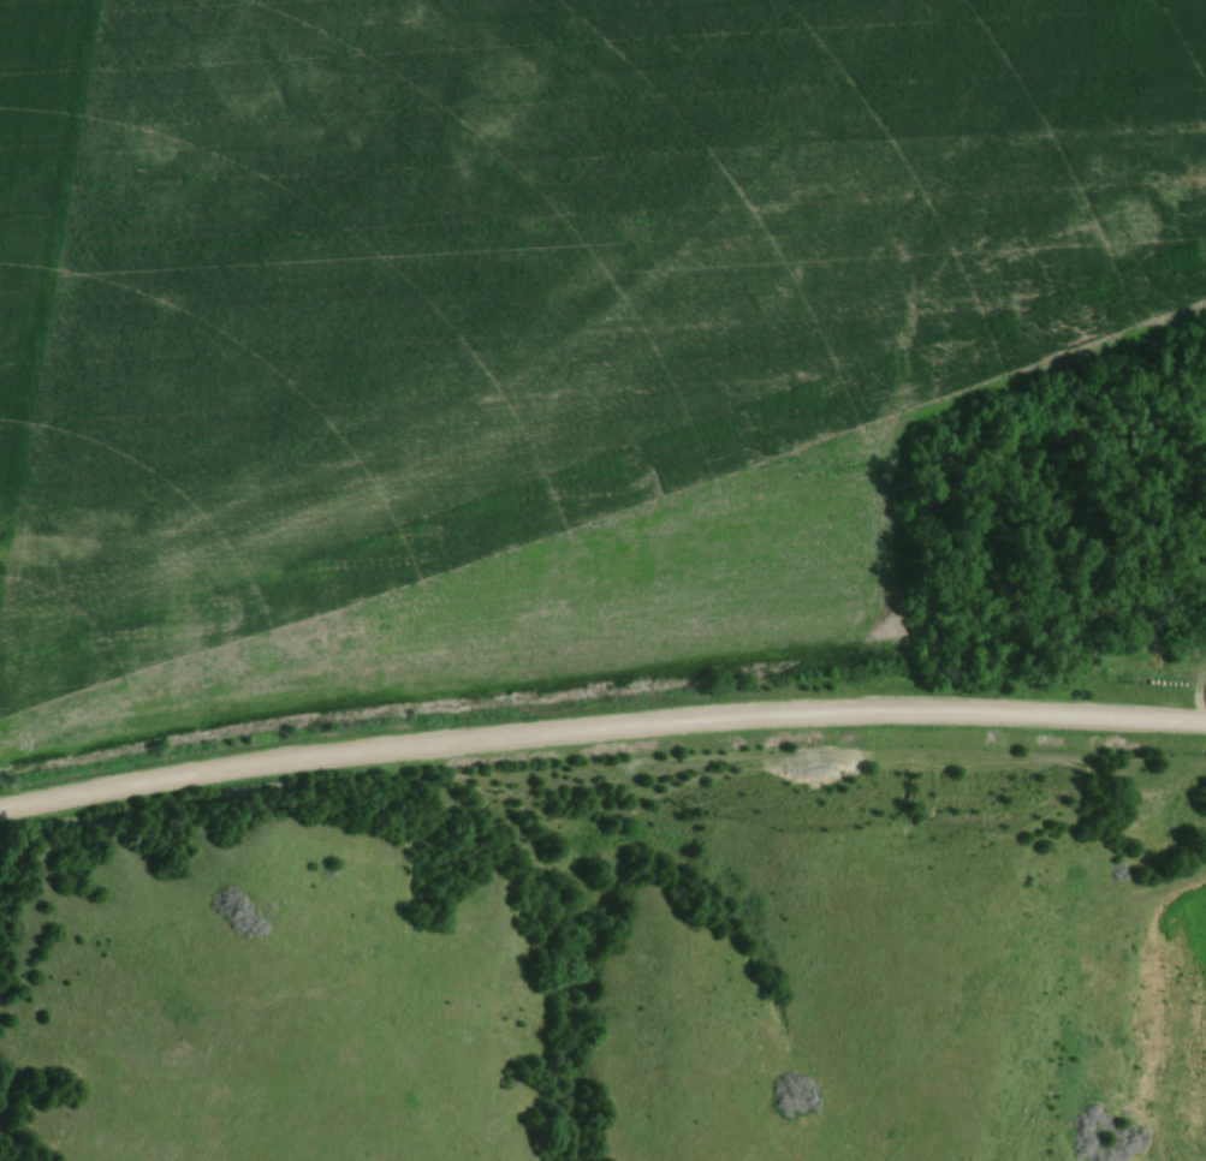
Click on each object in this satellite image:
road: (600, 728)

